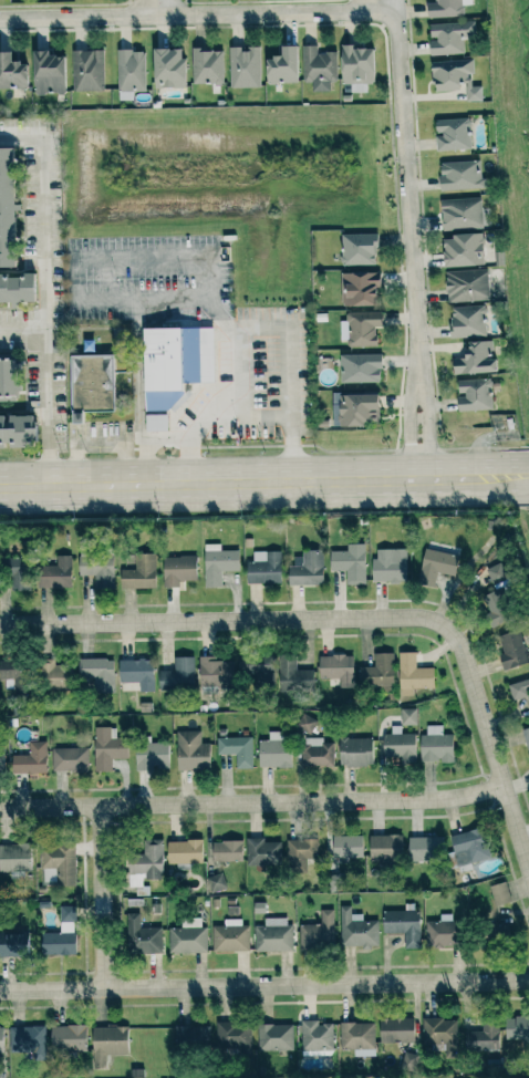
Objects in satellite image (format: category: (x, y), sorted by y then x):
road: (374, 4)
road: (156, 7)
building: (445, 8)
road: (377, 9)
building: (448, 37)
building: (207, 65)
building: (281, 65)
building: (243, 66)
building: (355, 66)
building: (167, 68)
building: (318, 68)
building: (86, 70)
building: (131, 71)
building: (11, 72)
building: (45, 72)
building: (454, 76)
building: (452, 133)
road: (21, 138)
building: (458, 174)
building: (6, 209)
building: (459, 213)
building: (356, 249)
building: (460, 250)
building: (465, 284)
building: (17, 288)
building: (357, 288)
road: (219, 302)
road: (137, 310)
road: (220, 311)
road: (44, 313)
building: (467, 320)
road: (236, 325)
building: (362, 328)
road: (22, 330)
building: (474, 357)
building: (173, 363)
building: (360, 367)
building: (7, 376)
road: (137, 380)
building: (89, 384)
road: (220, 385)
building: (473, 394)
building: (356, 410)
building: (154, 423)
road: (428, 424)
road: (406, 425)
building: (14, 431)
road: (255, 431)
road: (164, 440)
road: (98, 443)
road: (187, 462)
road: (141, 463)
road: (528, 475)
road: (263, 480)
building: (350, 562)
building: (218, 563)
building: (435, 566)
building: (263, 567)
building: (390, 567)
building: (95, 570)
building: (177, 570)
building: (137, 571)
building: (13, 572)
building: (53, 573)
building: (497, 607)
road: (229, 622)
building: (510, 650)
building: (336, 667)
building: (377, 671)
building: (215, 672)
building: (8, 673)
building: (97, 673)
building: (135, 673)
building: (255, 673)
building: (51, 674)
building: (413, 674)
building: (177, 675)
building: (293, 676)
building: (519, 690)
building: (408, 716)
building: (305, 723)
building: (526, 739)
building: (400, 745)
building: (435, 745)
building: (106, 748)
building: (236, 749)
building: (190, 750)
building: (273, 752)
building: (354, 752)
building: (317, 753)
building: (151, 756)
building: (1, 759)
building: (30, 759)
building: (69, 759)
road: (492, 759)
road: (251, 802)
building: (345, 846)
building: (384, 847)
building: (468, 847)
building: (423, 849)
building: (183, 851)
building: (226, 851)
building: (262, 853)
building: (300, 853)
building: (14, 858)
building: (59, 862)
building: (145, 863)
building: (215, 882)
building: (499, 893)
road: (98, 898)
building: (402, 926)
building: (355, 930)
building: (495, 931)
building: (318, 933)
building: (440, 934)
building: (273, 935)
building: (142, 936)
building: (188, 936)
building: (230, 936)
building: (60, 937)
building: (12, 943)
road: (264, 987)
building: (395, 1029)
building: (439, 1033)
building: (516, 1034)
building: (315, 1035)
building: (274, 1037)
building: (357, 1037)
building: (66, 1038)
building: (190, 1038)
building: (232, 1038)
building: (481, 1038)
building: (0, 1039)
building: (25, 1039)
building: (107, 1043)
building: (408, 1061)

